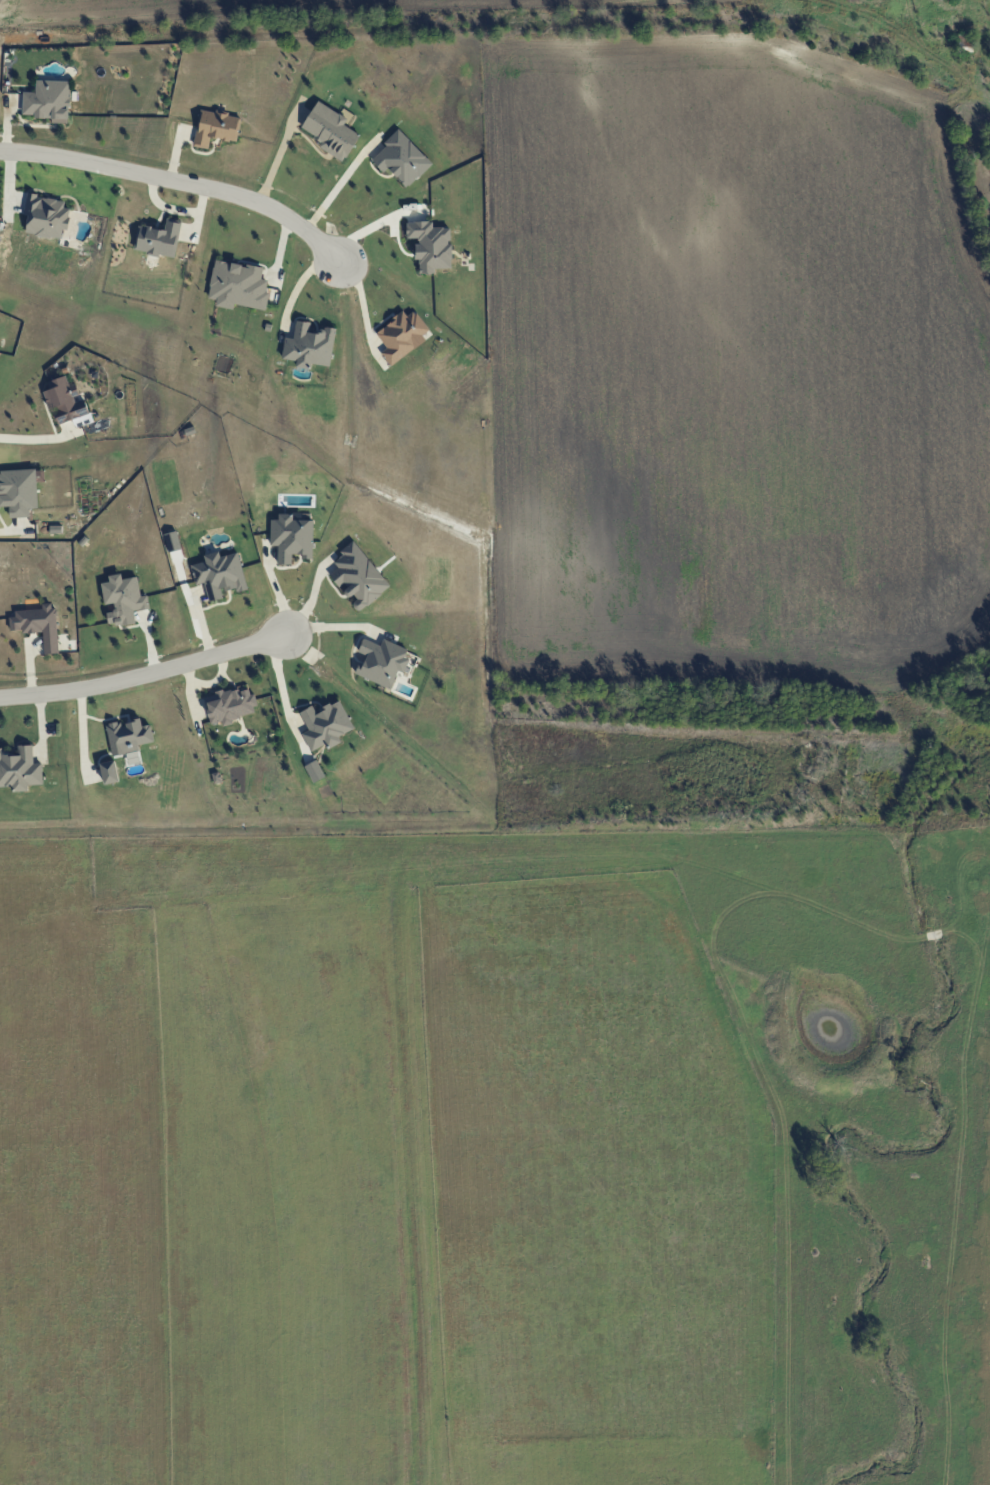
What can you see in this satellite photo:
building: (48, 101)
building: (216, 127)
building: (330, 131)
building: (401, 159)
road: (182, 181)
road: (334, 191)
building: (46, 216)
building: (159, 239)
building: (430, 245)
building: (237, 285)
building: (402, 336)
building: (309, 345)
building: (64, 400)
road: (27, 438)
building: (18, 491)
building: (292, 537)
building: (219, 574)
building: (358, 576)
building: (123, 599)
building: (37, 624)
building: (382, 661)
road: (145, 674)
building: (231, 705)
building: (325, 725)
building: (128, 736)
building: (19, 769)
building: (314, 771)
building: (109, 772)

